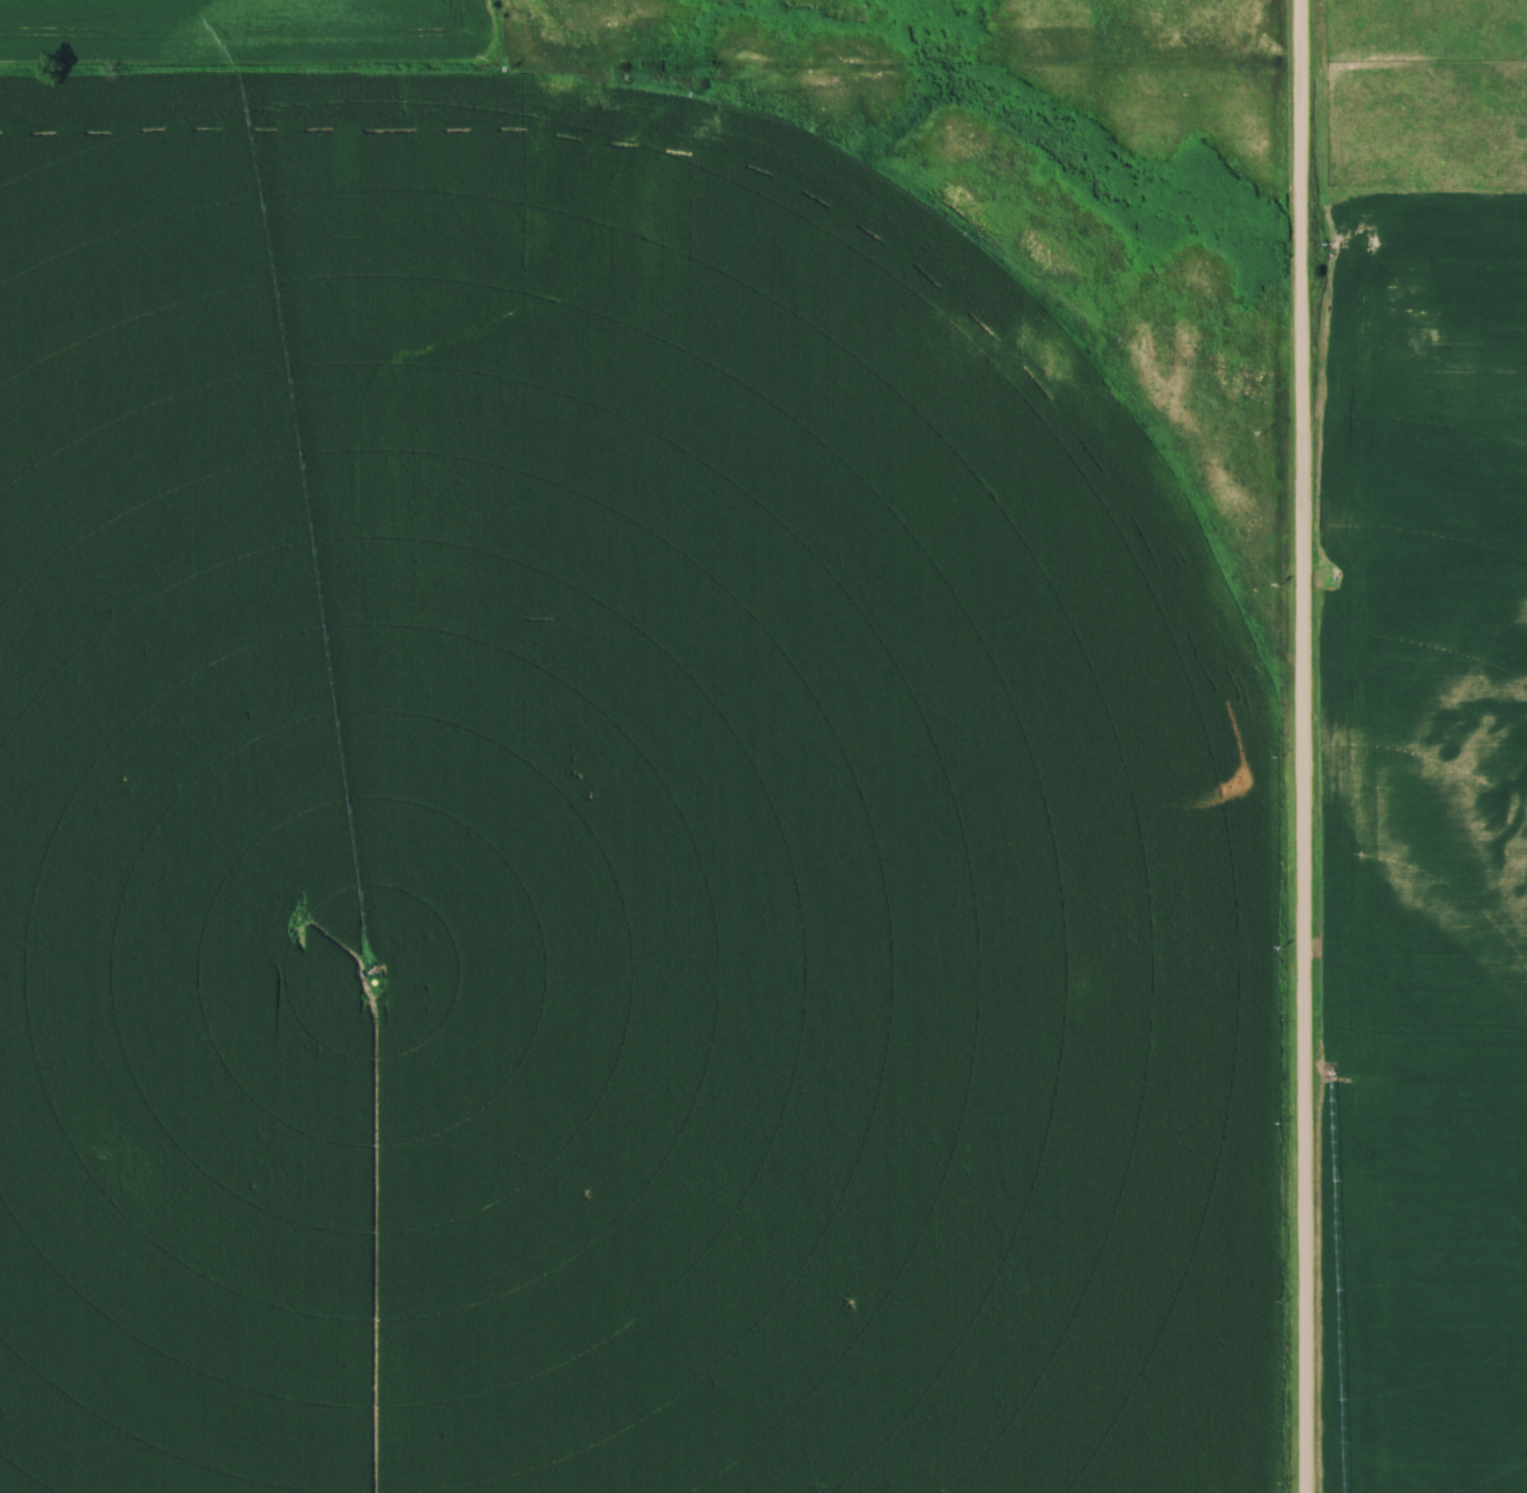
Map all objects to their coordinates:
road: (1304, 746)

